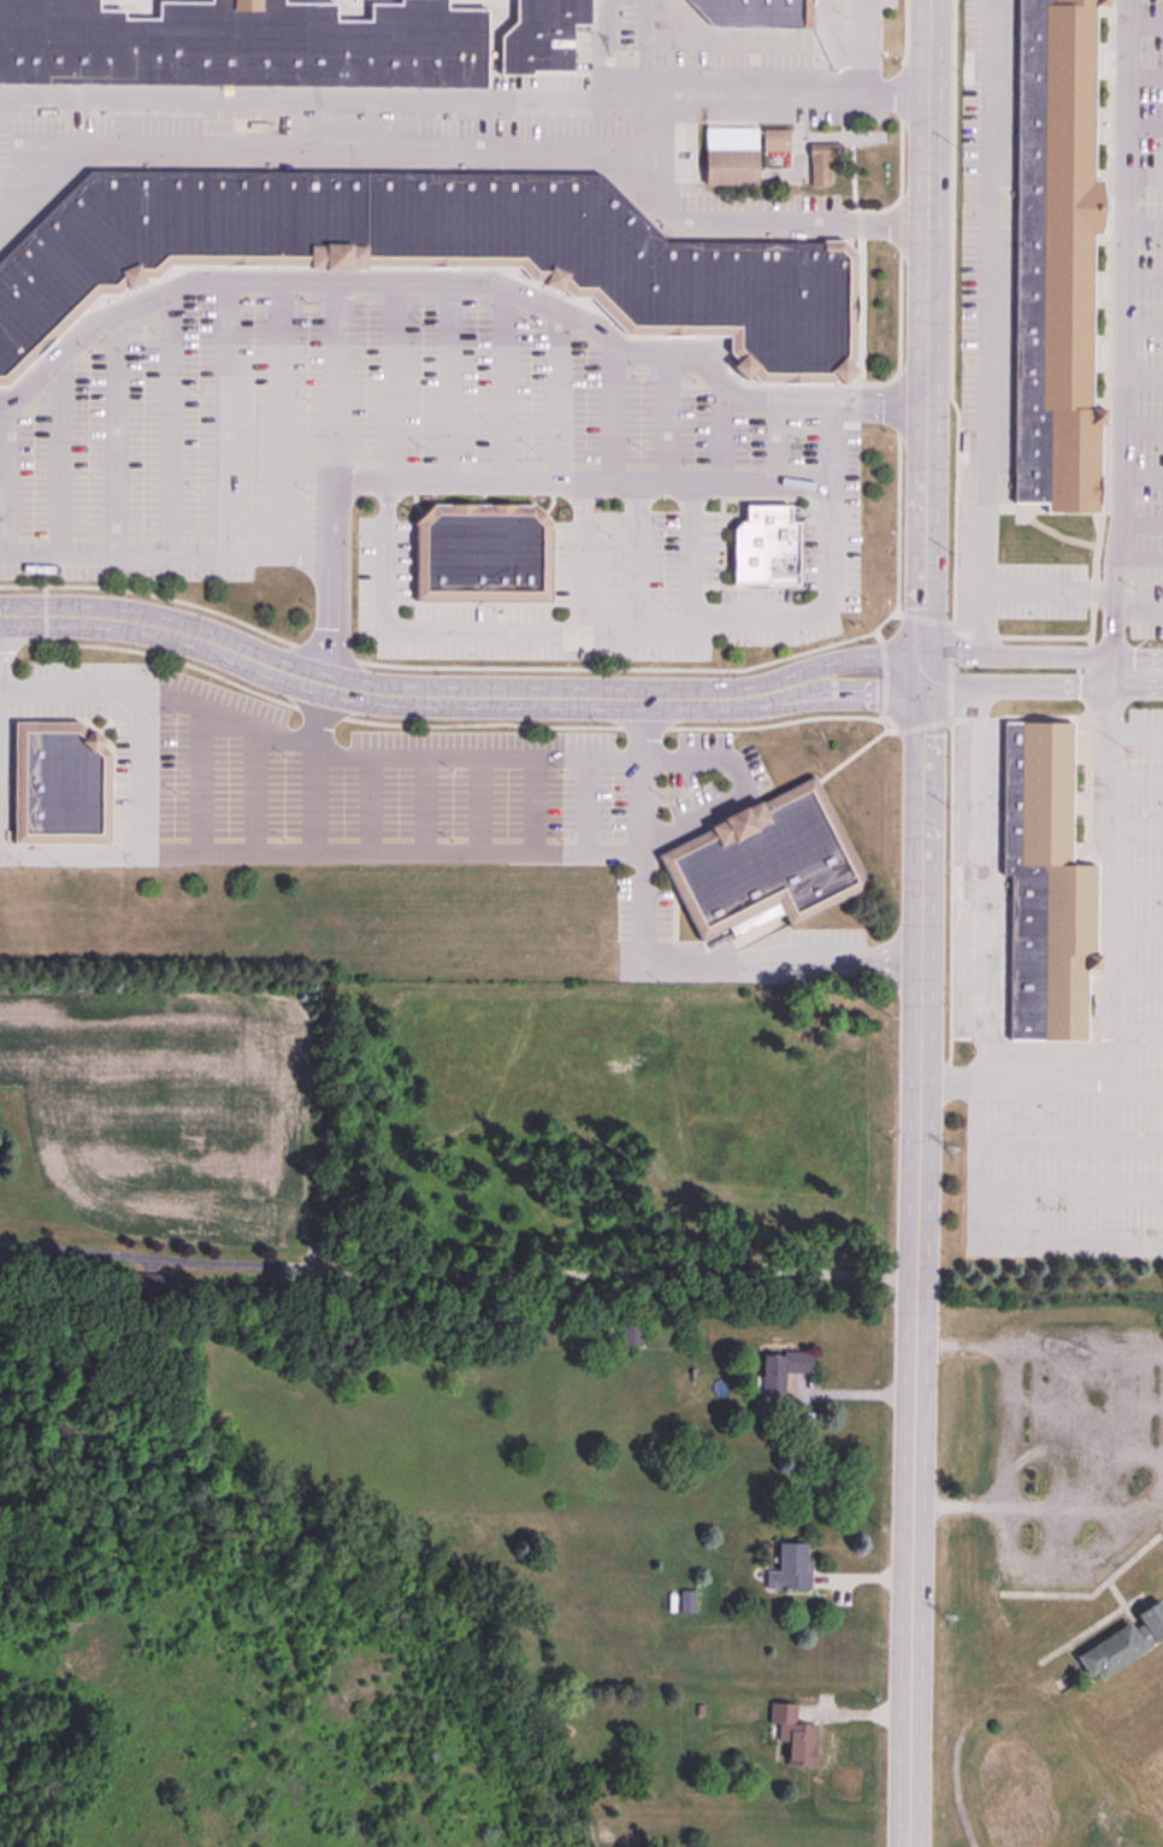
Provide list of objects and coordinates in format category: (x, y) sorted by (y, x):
building: (752, 13)
road: (822, 19)
road: (1141, 22)
building: (541, 36)
road: (757, 39)
building: (241, 45)
road: (604, 51)
road: (647, 51)
road: (868, 51)
road: (1141, 76)
road: (462, 101)
parking lot: (497, 117)
road: (1141, 127)
building: (774, 141)
road: (460, 157)
building: (730, 157)
building: (821, 166)
road: (1141, 178)
road: (7, 217)
road: (1141, 231)
building: (433, 255)
building: (1053, 255)
road: (1141, 276)
road: (459, 281)
road: (950, 313)
road: (986, 328)
road: (1141, 328)
parking lot: (1146, 331)
parking lot: (993, 342)
road: (1141, 378)
road: (392, 381)
road: (445, 381)
road: (502, 383)
road: (557, 396)
road: (612, 410)
road: (667, 416)
road: (225, 417)
road: (279, 417)
road: (169, 422)
road: (1141, 428)
road: (722, 430)
parking lot: (366, 431)
road: (116, 433)
road: (775, 441)
road: (59, 454)
road: (5, 477)
road: (581, 482)
road: (1141, 483)
road: (1140, 525)
road: (1056, 534)
road: (922, 541)
building: (762, 548)
road: (166, 553)
building: (479, 554)
road: (583, 555)
road: (636, 555)
road: (690, 555)
road: (1139, 560)
road: (332, 567)
road: (1047, 590)
parking lot: (615, 593)
road: (1138, 612)
road: (1091, 614)
road: (1112, 623)
road: (639, 630)
road: (1020, 636)
traffic signals: (922, 649)
road: (1041, 655)
road: (838, 661)
road: (754, 667)
road: (884, 673)
road: (951, 682)
road: (1041, 687)
road: (840, 690)
traffic signals: (922, 692)
road: (374, 694)
road: (429, 725)
road: (1137, 734)
road: (437, 758)
road: (850, 758)
road: (142, 776)
road: (201, 780)
parking lot: (355, 783)
road: (1137, 784)
building: (57, 786)
road: (255, 789)
road: (376, 805)
road: (427, 805)
road: (477, 805)
road: (533, 805)
road: (589, 805)
road: (951, 822)
road: (1137, 833)
road: (320, 852)
building: (762, 866)
road: (1137, 883)
road: (979, 884)
parking lot: (979, 886)
building: (1043, 887)
road: (1137, 934)
parking lot: (725, 947)
road: (651, 958)
road: (1137, 986)
road: (1137, 1037)
road: (1040, 1083)
parking lot: (1084, 1086)
road: (1069, 1142)
power tower: (950, 1149)
road: (1068, 1194)
building: (355, 1231)
road: (987, 1246)
road: (457, 1275)
building: (321, 1296)
building: (632, 1335)
building: (781, 1370)
road: (914, 1464)
building: (789, 1567)
building: (686, 1600)
power tower: (946, 1617)
building: (1120, 1642)
building: (792, 1734)

